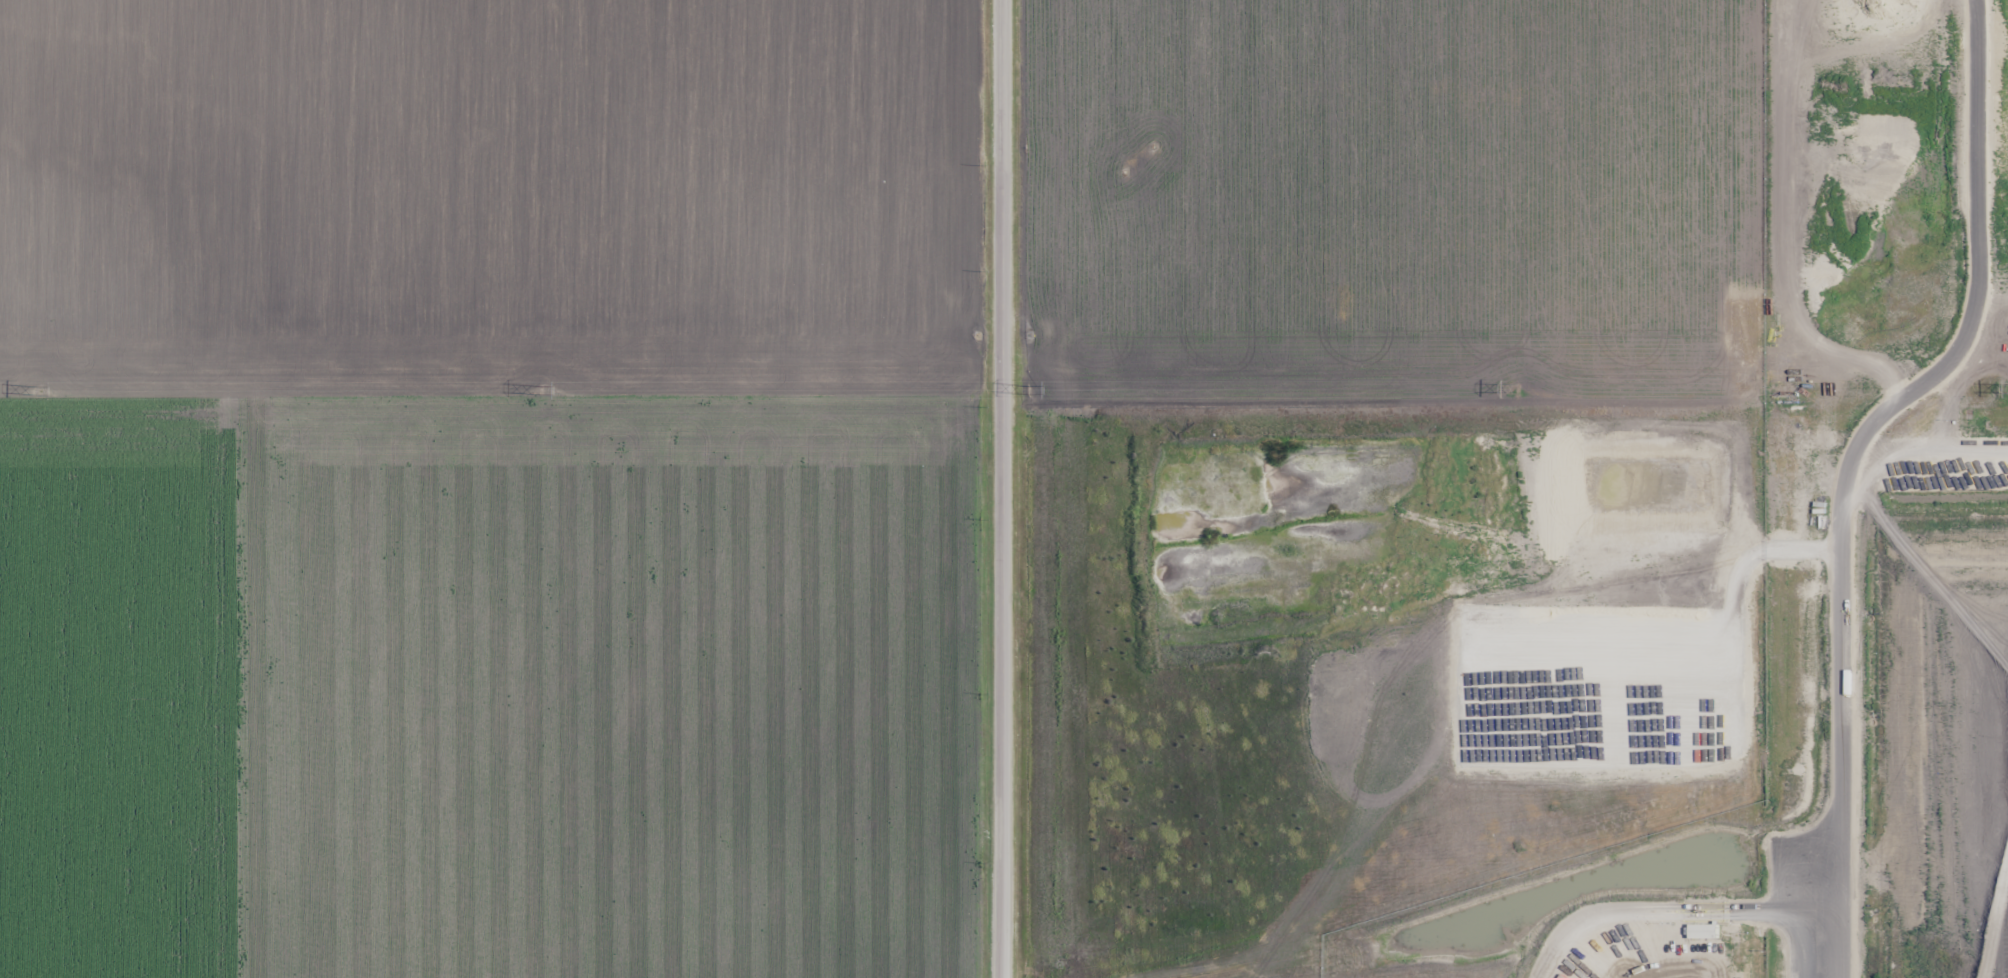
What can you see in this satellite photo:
power tower: (542, 389)
power tower: (1029, 389)
power tower: (1518, 389)
power tower: (41, 391)
road: (498, 399)
road: (997, 488)

